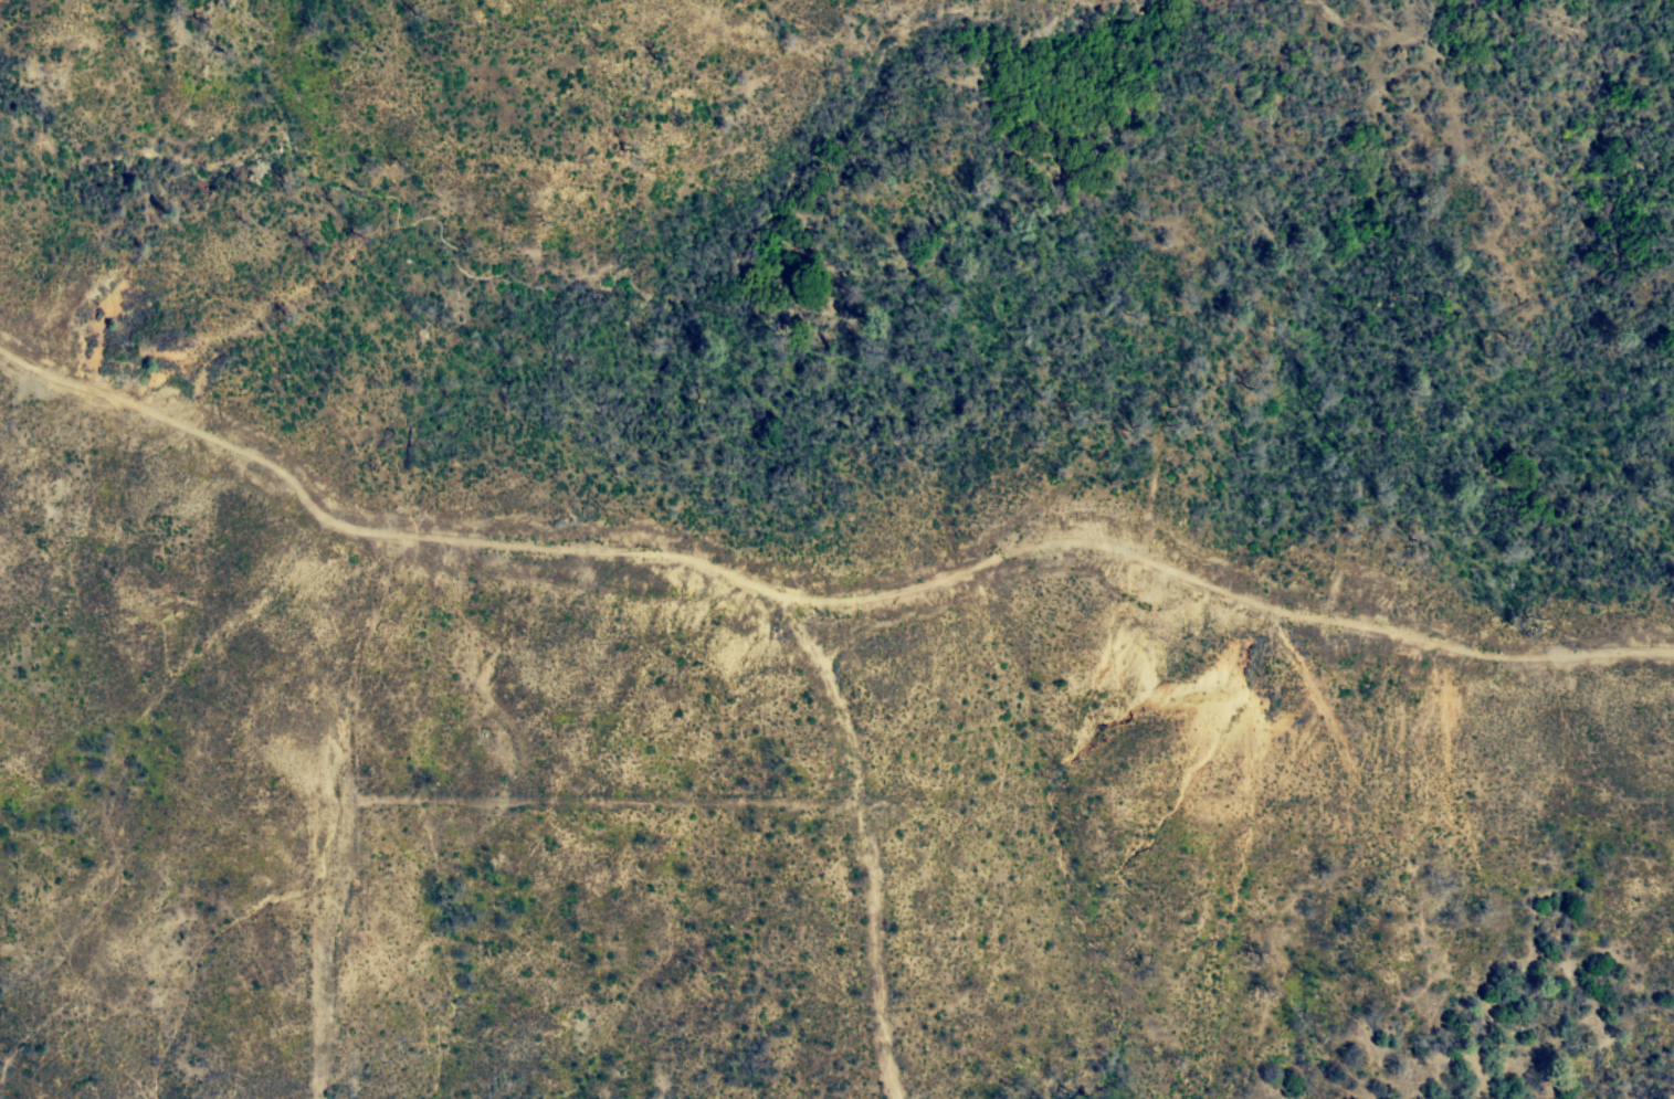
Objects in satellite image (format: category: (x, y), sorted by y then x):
road: (632, 549)
road: (1225, 595)
road: (443, 812)

